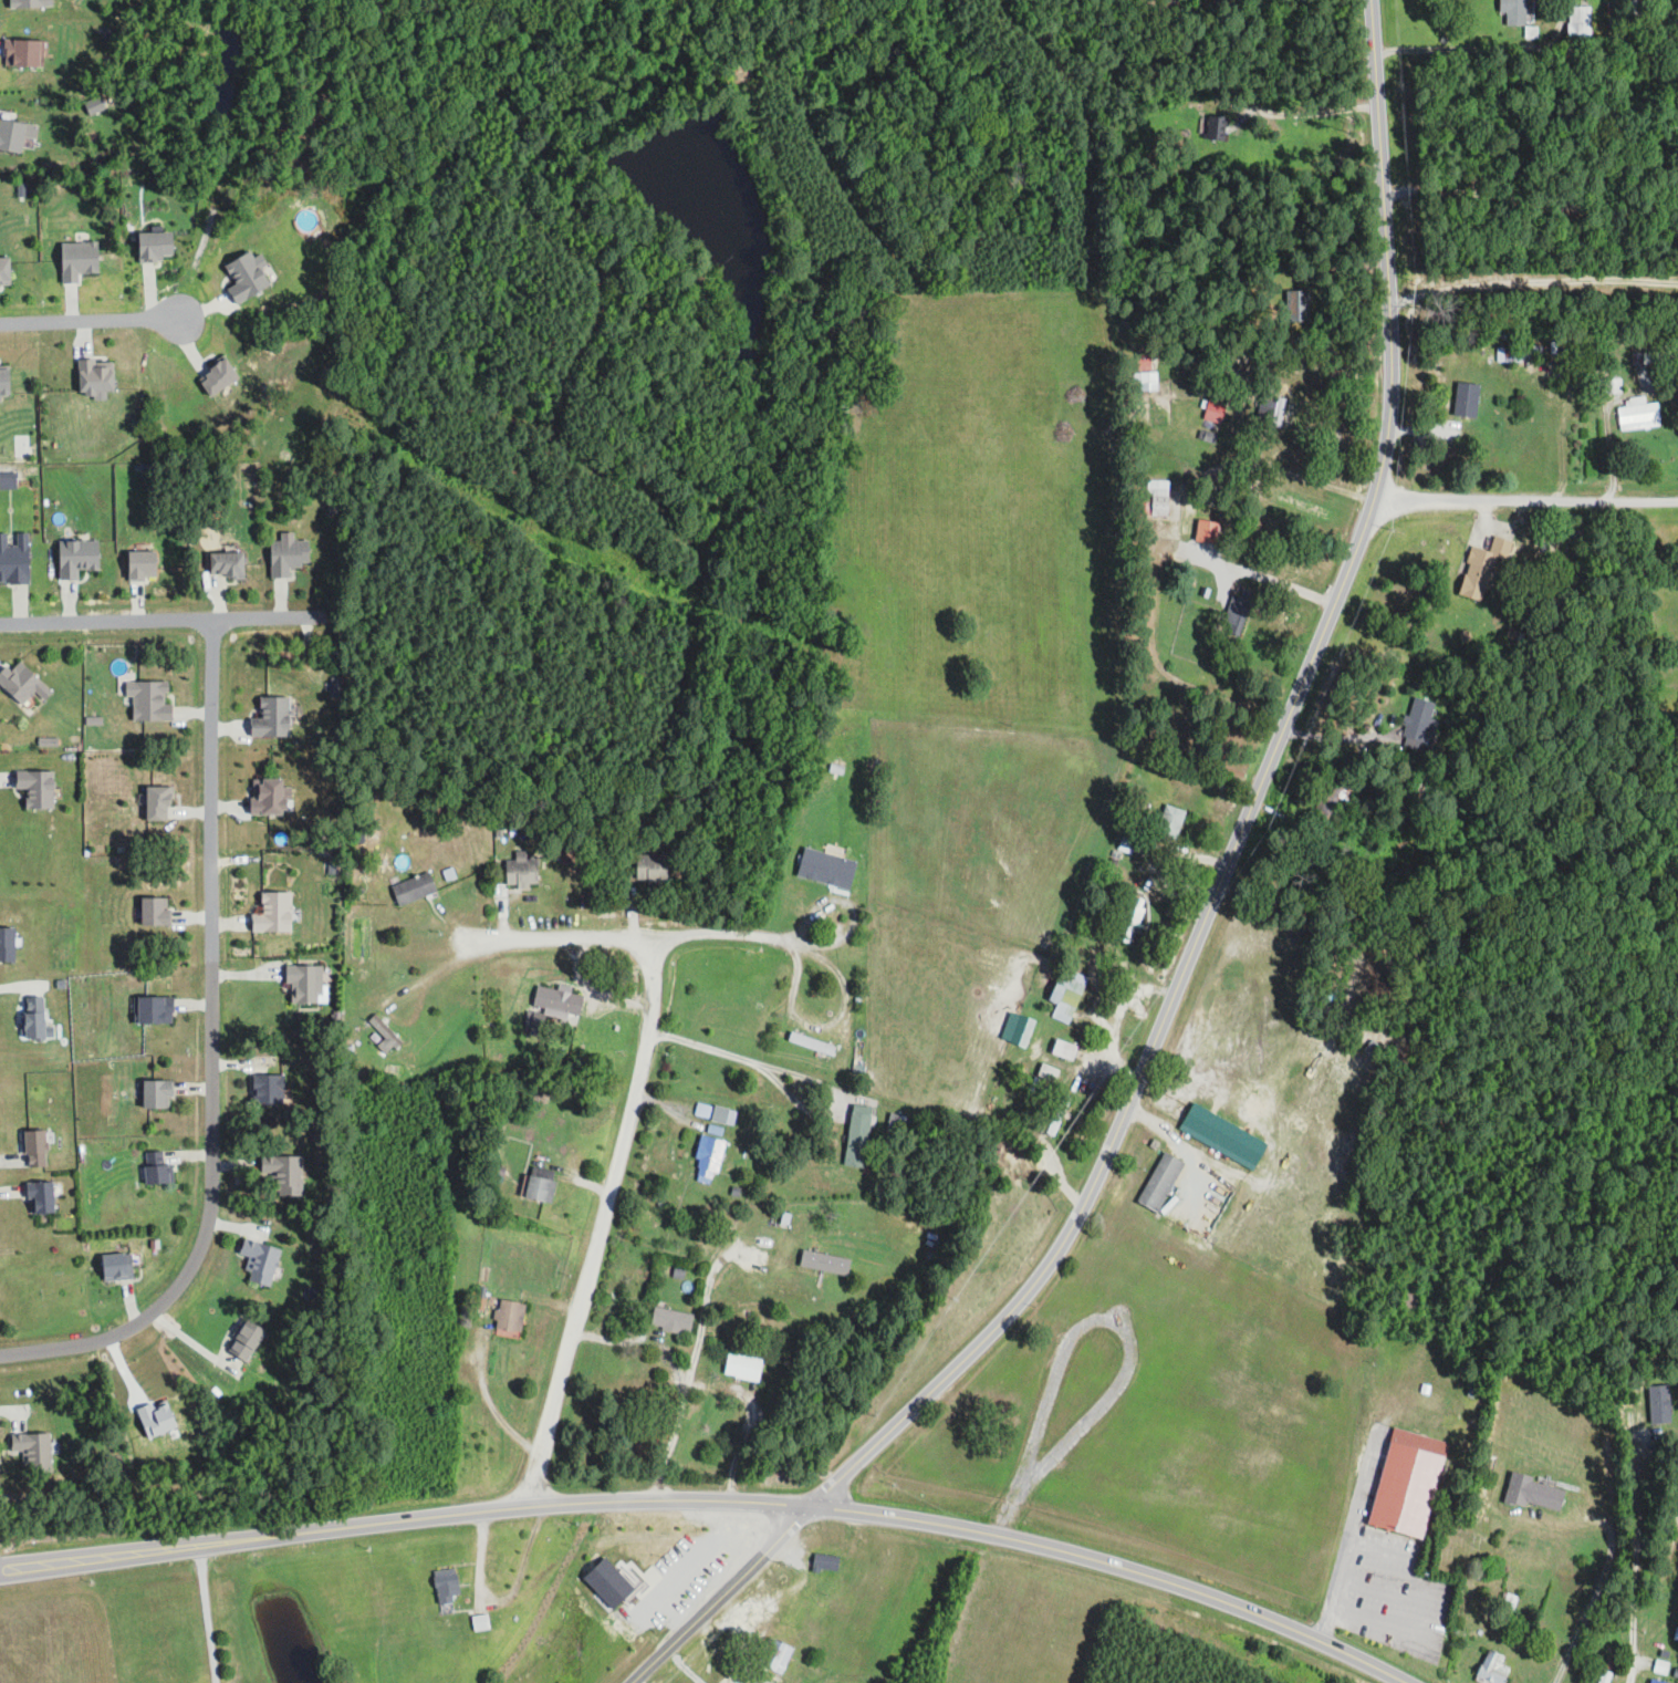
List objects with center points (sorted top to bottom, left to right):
building: (1224, 1)
building: (31, 3)
building: (1625, 8)
building: (1514, 12)
building: (1578, 30)
road: (1452, 50)
building: (21, 53)
road: (1304, 114)
building: (1215, 127)
building: (11, 135)
road: (1530, 200)
building: (156, 247)
building: (79, 260)
building: (4, 269)
building: (247, 277)
road: (1532, 280)
building: (1299, 307)
road: (86, 321)
building: (1509, 354)
building: (1641, 357)
building: (1145, 361)
building: (219, 376)
building: (1148, 376)
building: (95, 378)
building: (4, 381)
building: (1606, 386)
building: (1466, 398)
building: (1275, 412)
building: (1638, 414)
building: (1212, 415)
building: (8, 476)
building: (1157, 498)
road: (1525, 500)
building: (1207, 530)
building: (288, 553)
building: (14, 558)
building: (227, 562)
building: (142, 563)
building: (1481, 568)
road: (1251, 582)
building: (1238, 611)
road: (160, 617)
building: (22, 682)
building: (148, 699)
building: (273, 716)
building: (1419, 719)
road: (1335, 738)
building: (1416, 787)
building: (37, 788)
building: (268, 796)
building: (1336, 798)
building: (158, 801)
road: (1249, 810)
building: (1170, 821)
building: (652, 866)
building: (826, 868)
building: (521, 870)
building: (413, 887)
building: (155, 910)
building: (273, 912)
building: (1129, 923)
road: (632, 936)
building: (7, 944)
road: (429, 974)
building: (304, 983)
road: (21, 986)
building: (1066, 995)
building: (557, 1000)
building: (155, 1008)
building: (33, 1017)
building: (1018, 1028)
building: (384, 1033)
building: (1064, 1049)
road: (210, 1055)
road: (744, 1058)
building: (268, 1089)
building: (157, 1092)
building: (702, 1110)
building: (721, 1115)
building: (1222, 1136)
building: (856, 1139)
building: (35, 1147)
building: (707, 1160)
building: (156, 1166)
building: (283, 1173)
building: (1160, 1178)
building: (539, 1188)
building: (40, 1196)
building: (1209, 1207)
road: (600, 1222)
building: (259, 1260)
building: (824, 1261)
building: (117, 1266)
building: (1408, 1299)
building: (509, 1316)
building: (671, 1320)
building: (247, 1340)
road: (1128, 1352)
road: (691, 1360)
building: (743, 1367)
building: (1470, 1393)
building: (1659, 1404)
road: (491, 1405)
building: (156, 1419)
building: (33, 1451)
road: (1363, 1474)
building: (1407, 1482)
building: (1534, 1493)
road: (715, 1498)
park: (1456, 1548)
road: (1379, 1552)
road: (1630, 1552)
building: (824, 1562)
parking lot: (1384, 1577)
road: (1336, 1581)
building: (446, 1585)
road: (1595, 1589)
road: (723, 1596)
road: (202, 1614)
road: (1424, 1619)
building: (480, 1621)
building: (774, 1655)
road: (1639, 1661)
building: (1659, 1666)
building: (1492, 1670)
road: (1586, 1673)
building: (1604, 1676)
building: (1654, 1681)

